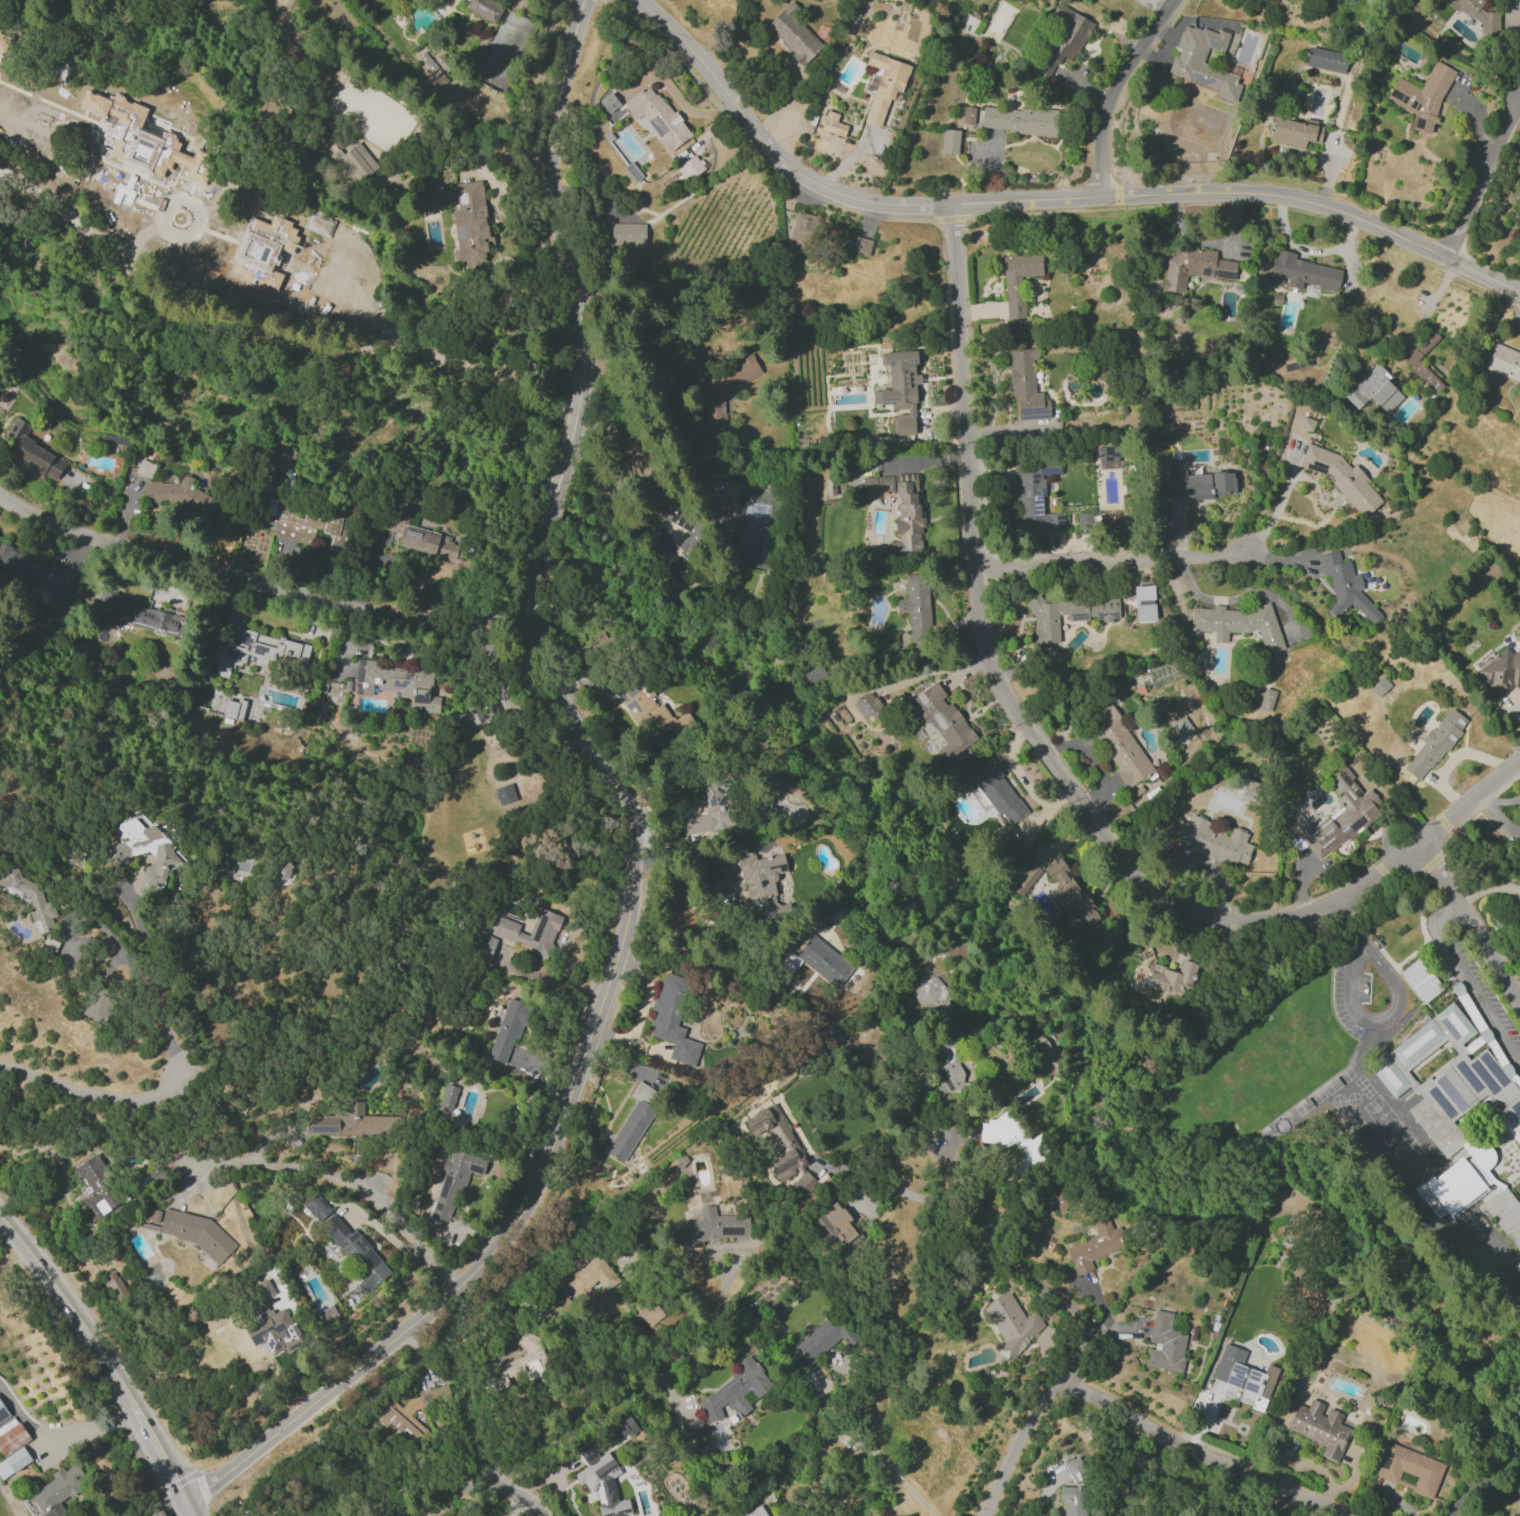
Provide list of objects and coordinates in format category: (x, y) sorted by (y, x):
building: (1476, 14)
building: (793, 34)
building: (1065, 36)
building: (4, 41)
road: (1087, 53)
building: (1187, 59)
building: (1329, 60)
building: (431, 68)
building: (884, 85)
road: (1114, 90)
road: (675, 95)
building: (1422, 96)
building: (608, 102)
building: (968, 114)
building: (657, 116)
building: (1018, 120)
building: (833, 124)
building: (1293, 131)
building: (138, 138)
building: (949, 141)
building: (355, 162)
building: (690, 167)
road: (995, 169)
road: (1479, 176)
building: (436, 195)
building: (261, 196)
road: (1048, 199)
building: (470, 223)
building: (318, 224)
building: (802, 228)
building: (627, 234)
building: (857, 245)
building: (263, 250)
building: (1194, 268)
building: (1302, 272)
building: (1017, 281)
road: (294, 293)
road: (1429, 303)
building: (1503, 362)
building: (1422, 372)
building: (1026, 385)
building: (899, 389)
building: (1374, 390)
building: (725, 392)
building: (1306, 423)
building: (33, 452)
building: (286, 453)
building: (1107, 456)
building: (145, 468)
building: (1341, 478)
building: (1199, 484)
building: (1034, 494)
building: (180, 496)
road: (1278, 503)
building: (901, 507)
building: (304, 522)
building: (679, 522)
building: (429, 543)
road: (1111, 561)
building: (48, 579)
road: (261, 583)
building: (1346, 588)
building: (1144, 602)
building: (916, 605)
building: (139, 614)
building: (1044, 620)
building: (1237, 623)
building: (1516, 636)
building: (257, 651)
building: (1198, 659)
building: (1501, 672)
building: (396, 683)
building: (1378, 686)
building: (1266, 699)
building: (868, 706)
building: (649, 707)
building: (233, 709)
building: (943, 720)
building: (1179, 729)
building: (1434, 744)
building: (1119, 745)
road: (1052, 764)
building: (994, 791)
building: (504, 794)
building: (710, 808)
building: (1337, 817)
road: (628, 820)
building: (1213, 841)
building: (144, 850)
road: (683, 853)
building: (237, 861)
building: (282, 870)
building: (1026, 879)
building: (762, 884)
building: (1070, 894)
building: (28, 897)
road: (1345, 920)
road: (1470, 925)
building: (507, 933)
building: (483, 948)
building: (816, 963)
road: (165, 971)
building: (1173, 978)
building: (1420, 980)
road: (1466, 982)
road: (649, 986)
road: (141, 988)
building: (931, 994)
building: (98, 1004)
road: (1380, 1016)
building: (672, 1020)
building: (1455, 1023)
building: (508, 1029)
building: (1416, 1042)
building: (1054, 1061)
building: (948, 1071)
building: (1389, 1076)
road: (103, 1096)
building: (447, 1098)
building: (632, 1121)
building: (349, 1122)
building: (1005, 1135)
road: (882, 1146)
building: (782, 1149)
building: (454, 1182)
road: (342, 1184)
building: (96, 1189)
building: (316, 1207)
building: (1505, 1215)
building: (833, 1225)
building: (712, 1227)
building: (193, 1231)
building: (1093, 1245)
building: (356, 1252)
building: (1517, 1267)
road: (1025, 1271)
building: (586, 1277)
building: (115, 1285)
building: (648, 1310)
building: (268, 1321)
building: (1011, 1325)
building: (820, 1341)
road: (309, 1343)
building: (1164, 1344)
road: (107, 1350)
building: (522, 1359)
road: (88, 1376)
building: (1241, 1379)
road: (638, 1383)
building: (735, 1391)
road: (471, 1407)
building: (394, 1415)
building: (4, 1418)
building: (622, 1427)
building: (1319, 1428)
crop: (51, 1430)
building: (1519, 1431)
building: (693, 1433)
road: (61, 1434)
building: (12, 1438)
road: (1018, 1449)
road: (1206, 1449)
road: (871, 1453)
building: (13, 1462)
building: (1075, 1468)
building: (1409, 1469)
road: (452, 1472)
building: (601, 1481)
road: (1478, 1482)
building: (57, 1491)
building: (1073, 1500)
road: (193, 1508)
building: (240, 1512)
building: (755, 1512)
building: (158, 1513)

